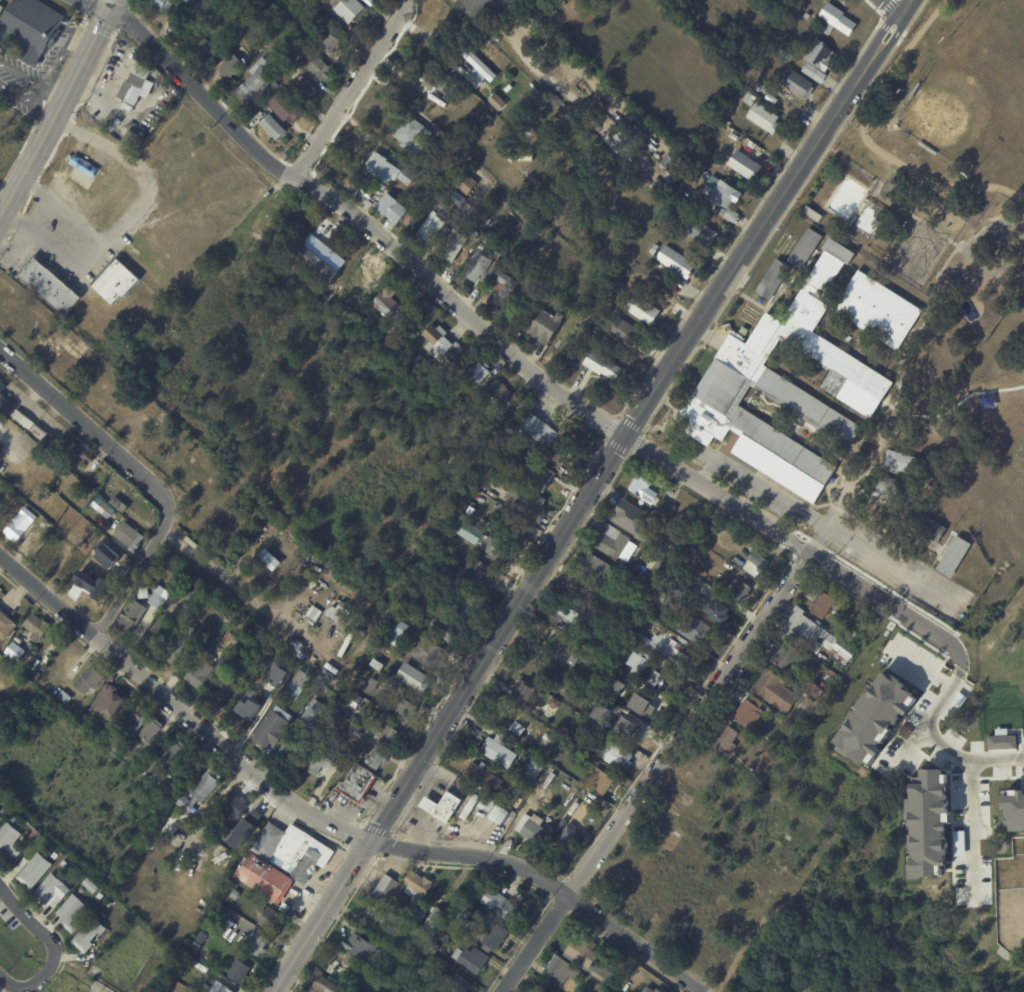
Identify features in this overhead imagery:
building: (0, 0)
traffic signals: (112, 4)
building: (161, 5)
building: (202, 6)
building: (473, 6)
road: (94, 7)
road: (891, 7)
road: (905, 7)
building: (1, 9)
building: (348, 9)
traffic signals: (107, 15)
building: (808, 15)
building: (837, 20)
building: (31, 28)
road: (898, 30)
road: (908, 38)
building: (330, 42)
building: (209, 48)
building: (262, 49)
building: (783, 52)
building: (552, 55)
building: (820, 55)
building: (478, 65)
building: (232, 66)
building: (320, 69)
building: (435, 76)
building: (820, 76)
building: (256, 80)
building: (134, 83)
building: (799, 85)
building: (304, 87)
road: (351, 88)
building: (766, 90)
building: (916, 90)
building: (450, 92)
building: (497, 101)
park: (974, 101)
building: (751, 102)
building: (285, 107)
road: (59, 109)
building: (764, 118)
park: (917, 119)
building: (105, 122)
building: (273, 126)
park: (10, 131)
building: (530, 132)
building: (413, 135)
building: (734, 136)
building: (133, 138)
building: (631, 138)
road: (869, 141)
building: (716, 147)
building: (929, 148)
road: (462, 151)
building: (746, 166)
building: (381, 168)
building: (84, 174)
building: (407, 176)
building: (442, 179)
building: (695, 179)
building: (465, 183)
building: (365, 189)
building: (726, 198)
building: (457, 199)
building: (444, 204)
building: (392, 209)
road: (63, 210)
building: (814, 214)
road: (126, 218)
building: (672, 220)
road: (365, 222)
building: (431, 228)
building: (461, 228)
building: (701, 232)
building: (670, 233)
building: (486, 240)
building: (453, 246)
building: (482, 247)
building: (806, 248)
building: (654, 251)
building: (498, 252)
building: (918, 252)
building: (322, 256)
building: (677, 262)
building: (478, 267)
building: (517, 271)
building: (774, 280)
building: (117, 281)
building: (51, 284)
building: (530, 284)
building: (504, 288)
building: (639, 288)
building: (388, 303)
building: (522, 305)
building: (644, 310)
building: (878, 310)
building: (617, 311)
building: (546, 326)
building: (624, 331)
building: (745, 331)
building: (597, 337)
building: (445, 344)
building: (593, 345)
building: (603, 366)
building: (480, 370)
building: (787, 385)
building: (502, 393)
building: (5, 400)
building: (472, 406)
building: (30, 424)
road: (87, 424)
building: (549, 435)
building: (527, 441)
building: (79, 452)
building: (535, 459)
building: (904, 464)
building: (515, 469)
building: (104, 471)
building: (540, 476)
building: (40, 478)
building: (896, 489)
road: (769, 492)
building: (652, 493)
road: (717, 493)
building: (525, 497)
road: (583, 501)
building: (103, 507)
building: (633, 518)
building: (20, 523)
building: (680, 523)
building: (926, 526)
building: (61, 529)
building: (694, 530)
building: (704, 530)
building: (132, 538)
building: (701, 538)
building: (483, 539)
parking lot: (846, 540)
building: (193, 542)
building: (616, 542)
building: (693, 551)
building: (53, 555)
building: (953, 555)
building: (167, 559)
building: (269, 559)
building: (438, 559)
building: (758, 564)
road: (890, 565)
building: (595, 566)
building: (180, 572)
building: (660, 572)
road: (135, 573)
building: (478, 575)
building: (430, 578)
building: (321, 585)
building: (144, 587)
building: (739, 589)
building: (308, 590)
building: (584, 591)
building: (96, 592)
building: (662, 595)
building: (159, 596)
road: (890, 596)
building: (173, 597)
building: (457, 603)
building: (644, 605)
building: (825, 605)
building: (345, 608)
building: (572, 613)
building: (408, 614)
building: (131, 615)
building: (414, 616)
building: (635, 617)
building: (1005, 618)
building: (5, 625)
building: (36, 627)
building: (399, 629)
building: (449, 631)
building: (700, 632)
building: (158, 633)
building: (812, 633)
building: (19, 640)
building: (346, 643)
building: (398, 643)
building: (182, 645)
building: (670, 646)
building: (15, 651)
building: (430, 651)
building: (788, 655)
building: (257, 658)
building: (574, 659)
building: (556, 660)
building: (637, 661)
road: (959, 661)
building: (268, 663)
building: (277, 670)
building: (202, 671)
building: (819, 671)
building: (414, 677)
building: (654, 677)
building: (833, 678)
building: (90, 679)
building: (298, 683)
building: (617, 683)
building: (673, 685)
building: (814, 688)
building: (223, 689)
building: (775, 690)
building: (524, 695)
building: (65, 696)
building: (266, 699)
building: (378, 699)
building: (109, 702)
building: (555, 702)
building: (809, 702)
building: (642, 705)
building: (405, 708)
building: (600, 710)
building: (318, 711)
building: (750, 712)
building: (569, 715)
building: (134, 719)
road: (932, 722)
building: (273, 727)
building: (250, 728)
building: (629, 728)
building: (151, 729)
building: (519, 729)
building: (795, 731)
building: (592, 732)
building: (640, 732)
building: (390, 734)
building: (549, 738)
building: (727, 739)
building: (119, 744)
building: (149, 749)
building: (295, 751)
building: (176, 752)
building: (499, 752)
building: (618, 755)
building: (377, 760)
building: (321, 761)
building: (534, 768)
building: (514, 771)
road: (658, 771)
building: (181, 775)
building: (479, 775)
building: (760, 777)
building: (514, 781)
building: (600, 781)
building: (358, 784)
building: (168, 787)
building: (198, 792)
building: (478, 798)
road: (970, 798)
building: (491, 804)
building: (7, 806)
building: (443, 806)
building: (234, 809)
building: (4, 811)
building: (500, 814)
building: (0, 817)
building: (13, 818)
building: (0, 819)
road: (326, 821)
building: (168, 830)
building: (534, 830)
building: (33, 835)
building: (222, 835)
building: (569, 839)
building: (9, 841)
building: (240, 844)
building: (294, 850)
building: (55, 856)
building: (64, 863)
park: (717, 866)
building: (34, 871)
building: (265, 878)
building: (417, 885)
building: (90, 886)
building: (389, 890)
building: (51, 892)
building: (100, 896)
building: (109, 903)
building: (502, 905)
building: (403, 910)
building: (73, 913)
building: (418, 916)
building: (461, 916)
building: (435, 917)
building: (271, 918)
building: (482, 918)
building: (382, 919)
road: (31, 922)
building: (208, 922)
building: (400, 933)
building: (88, 935)
building: (496, 935)
building: (202, 937)
building: (254, 943)
building: (360, 946)
building: (192, 947)
building: (435, 947)
building: (583, 952)
building: (471, 959)
building: (186, 960)
building: (333, 966)
building: (566, 970)
building: (239, 972)
building: (416, 972)
building: (605, 975)
building: (453, 984)
road: (28, 985)
building: (325, 986)
building: (598, 987)
building: (220, 988)
building: (658, 991)

